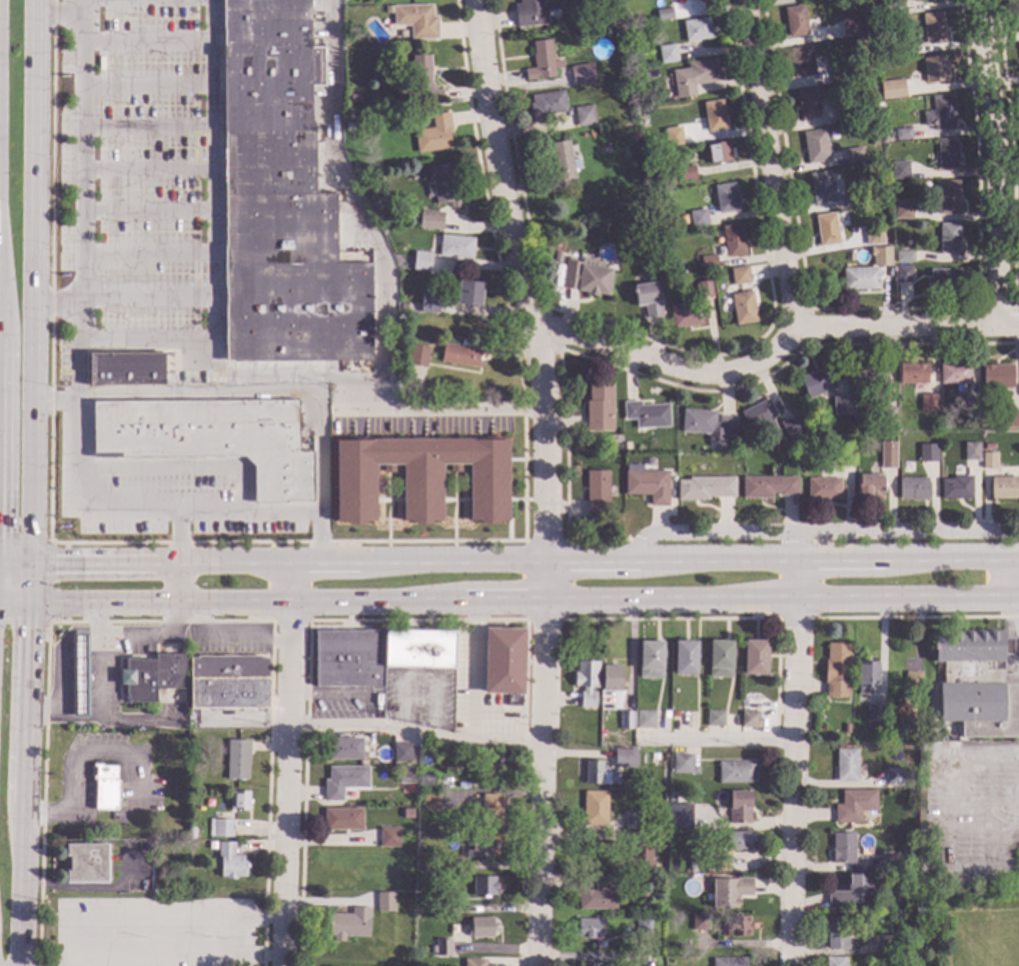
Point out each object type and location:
building: (918, 0)
building: (889, 6)
building: (388, 9)
building: (533, 11)
building: (1017, 12)
road: (65, 13)
building: (664, 13)
building: (415, 21)
building: (795, 21)
building: (933, 28)
building: (696, 29)
building: (616, 30)
building: (850, 31)
building: (631, 33)
building: (859, 42)
building: (906, 48)
building: (667, 53)
building: (542, 61)
building: (801, 61)
building: (934, 69)
building: (581, 74)
building: (841, 74)
building: (694, 76)
building: (642, 77)
building: (423, 78)
building: (628, 87)
building: (892, 89)
building: (354, 97)
building: (808, 104)
building: (546, 105)
building: (845, 112)
building: (641, 113)
building: (939, 113)
building: (584, 115)
building: (714, 115)
building: (902, 133)
building: (434, 134)
building: (673, 136)
building: (874, 140)
building: (815, 146)
building: (718, 152)
building: (947, 153)
building: (853, 155)
road: (986, 163)
building: (560, 164)
road: (765, 165)
building: (899, 170)
building: (686, 173)
road: (215, 181)
road: (81, 182)
building: (924, 185)
building: (444, 187)
building: (821, 188)
building: (947, 196)
building: (726, 198)
building: (280, 200)
building: (848, 201)
building: (903, 209)
road: (355, 210)
building: (698, 218)
building: (841, 218)
building: (430, 219)
building: (826, 229)
building: (873, 234)
building: (949, 238)
building: (732, 240)
building: (455, 247)
building: (883, 254)
building: (557, 256)
building: (904, 256)
building: (708, 260)
building: (421, 261)
building: (903, 273)
building: (739, 275)
building: (586, 277)
building: (860, 278)
building: (944, 278)
building: (704, 288)
building: (467, 293)
road: (526, 298)
building: (647, 299)
building: (430, 303)
building: (403, 306)
building: (743, 308)
building: (687, 314)
road: (129, 341)
road: (771, 347)
building: (462, 353)
building: (417, 355)
road: (72, 365)
building: (125, 369)
building: (954, 373)
building: (871, 374)
building: (913, 374)
building: (997, 375)
road: (272, 376)
building: (817, 382)
road: (174, 390)
road: (337, 393)
building: (928, 402)
building: (841, 404)
building: (971, 406)
road: (440, 407)
building: (598, 408)
building: (646, 414)
building: (887, 415)
building: (759, 417)
building: (1011, 418)
building: (707, 423)
building: (789, 426)
building: (210, 438)
building: (629, 445)
building: (988, 446)
building: (971, 450)
building: (927, 452)
building: (887, 454)
building: (843, 456)
building: (988, 460)
road: (318, 476)
building: (421, 477)
road: (32, 483)
building: (646, 483)
building: (870, 485)
building: (768, 486)
building: (704, 487)
building: (823, 488)
building: (912, 488)
building: (956, 488)
building: (1003, 488)
road: (85, 491)
building: (597, 493)
road: (819, 533)
road: (178, 558)
road: (509, 560)
traffic signals: (54, 564)
road: (1004, 576)
road: (49, 580)
road: (596, 599)
road: (87, 605)
road: (1011, 622)
traffic signals: (30, 627)
road: (135, 633)
building: (377, 655)
building: (685, 658)
building: (755, 658)
building: (720, 659)
building: (650, 660)
building: (503, 663)
road: (471, 668)
road: (61, 670)
building: (837, 671)
building: (80, 675)
building: (152, 676)
building: (866, 677)
building: (611, 678)
building: (913, 681)
building: (229, 682)
building: (586, 683)
building: (977, 683)
building: (747, 707)
building: (874, 712)
building: (675, 714)
building: (666, 715)
building: (903, 716)
building: (646, 717)
building: (714, 718)
building: (625, 720)
building: (750, 720)
building: (846, 729)
road: (414, 730)
road: (715, 738)
building: (879, 740)
building: (345, 749)
road: (791, 749)
road: (982, 751)
building: (402, 753)
building: (654, 756)
building: (626, 758)
building: (238, 760)
building: (497, 763)
road: (284, 764)
building: (683, 764)
building: (846, 765)
building: (737, 772)
building: (595, 773)
building: (407, 775)
building: (893, 777)
building: (344, 782)
road: (542, 783)
building: (426, 784)
building: (105, 786)
building: (239, 801)
building: (430, 802)
building: (855, 806)
building: (739, 807)
building: (595, 809)
building: (491, 811)
building: (408, 813)
road: (49, 816)
building: (679, 816)
building: (343, 819)
building: (633, 821)
building: (221, 828)
building: (191, 833)
building: (389, 838)
building: (638, 838)
building: (735, 841)
building: (480, 847)
building: (843, 849)
building: (641, 860)
building: (231, 862)
building: (891, 862)
building: (87, 863)
building: (692, 866)
building: (430, 867)
building: (172, 876)
building: (897, 878)
building: (484, 886)
building: (730, 891)
building: (850, 893)
building: (594, 895)
building: (386, 902)
building: (443, 909)
building: (699, 923)
building: (349, 924)
building: (738, 926)
building: (481, 927)
building: (642, 927)
building: (588, 929)
building: (837, 932)
road: (235, 937)
building: (882, 944)
building: (443, 948)
building: (728, 962)
building: (835, 962)
building: (896, 962)
building: (474, 963)
building: (589, 964)

